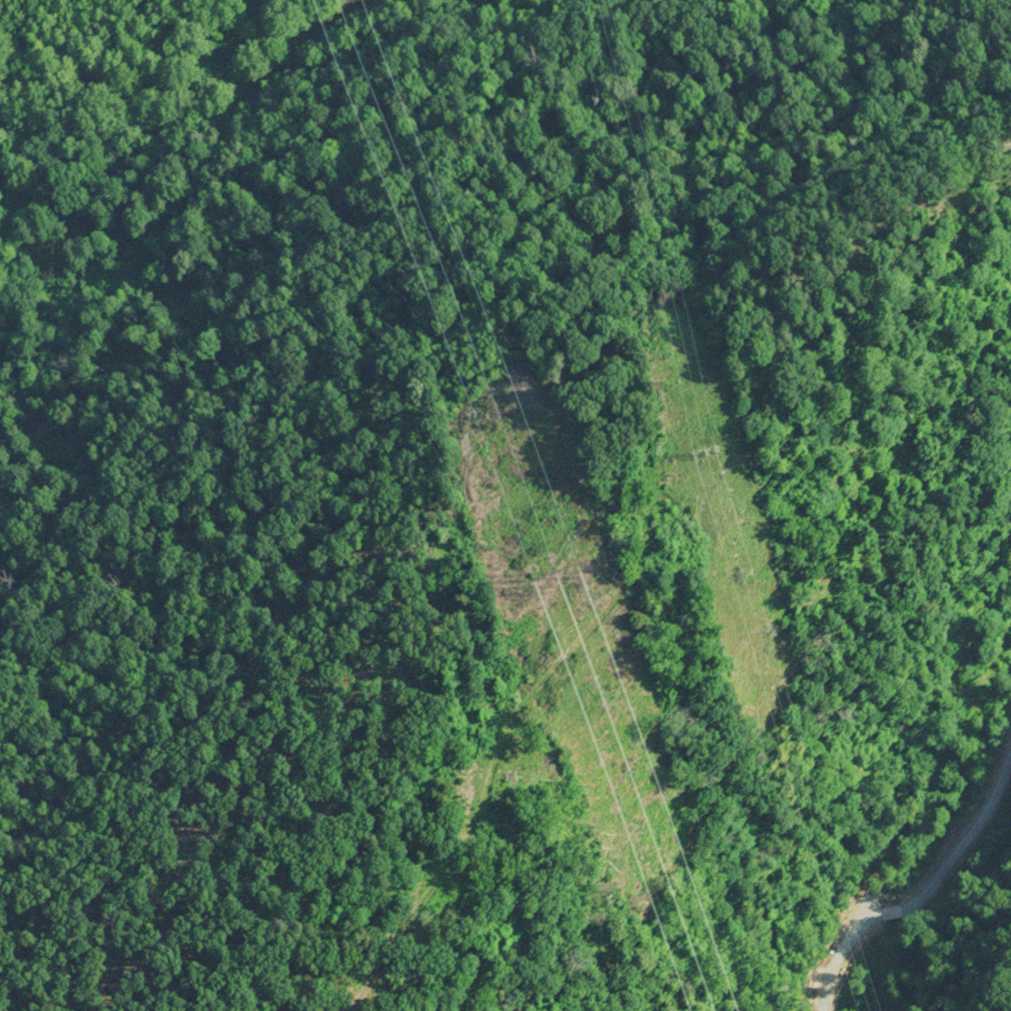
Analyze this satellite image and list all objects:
power tower: (718, 448)
power tower: (559, 576)
power tower: (876, 869)
road: (924, 919)

